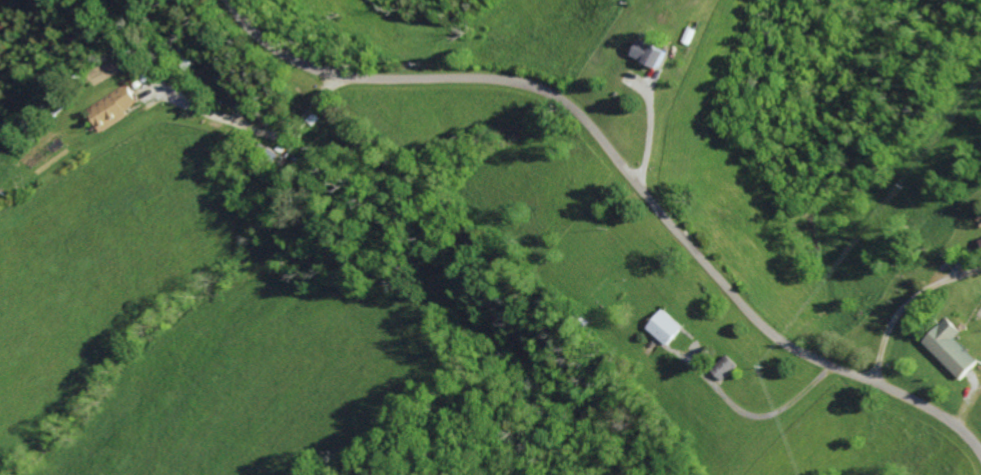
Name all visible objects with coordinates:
building: (653, 54)
road: (270, 138)
road: (629, 173)
road: (299, 235)
road: (346, 270)
road: (905, 305)
building: (669, 328)
building: (953, 349)

